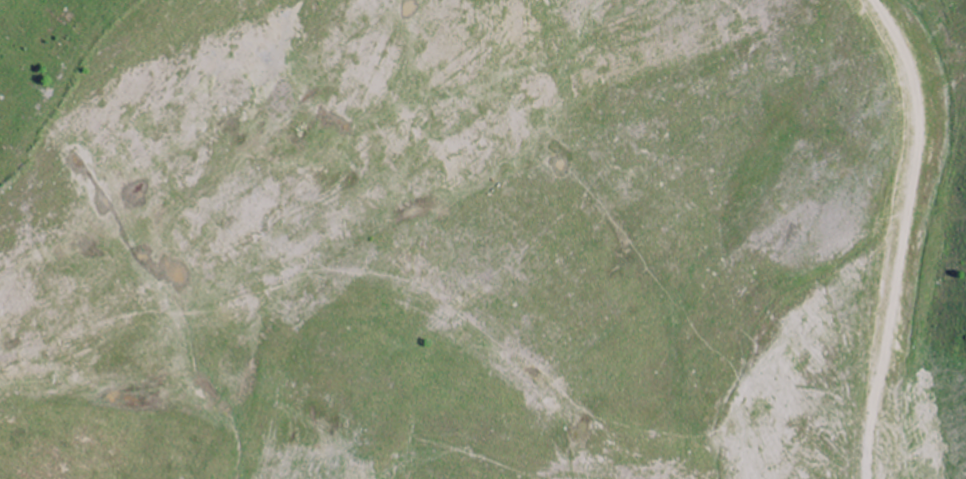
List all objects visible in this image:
quarry: (483, 239)

